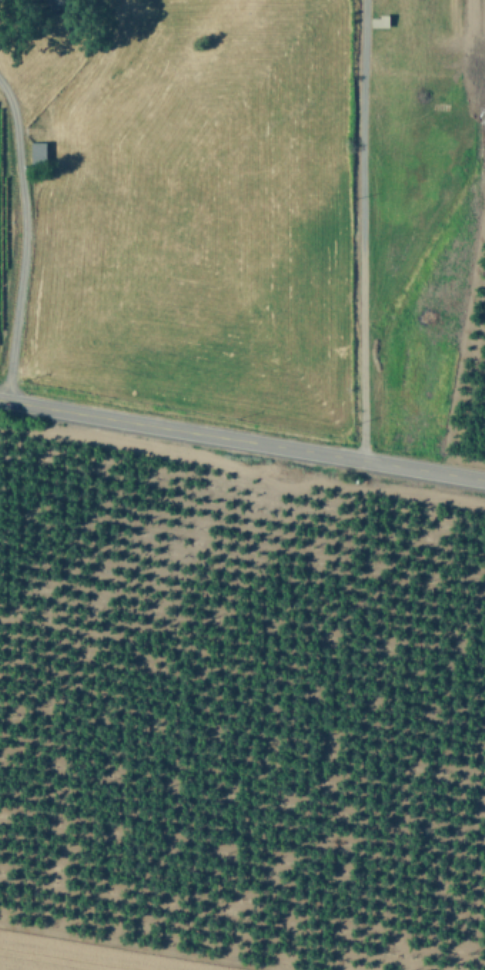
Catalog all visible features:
building: (38, 150)
crop: (240, 204)
road: (361, 229)
road: (20, 239)
road: (242, 439)
crop: (236, 717)

